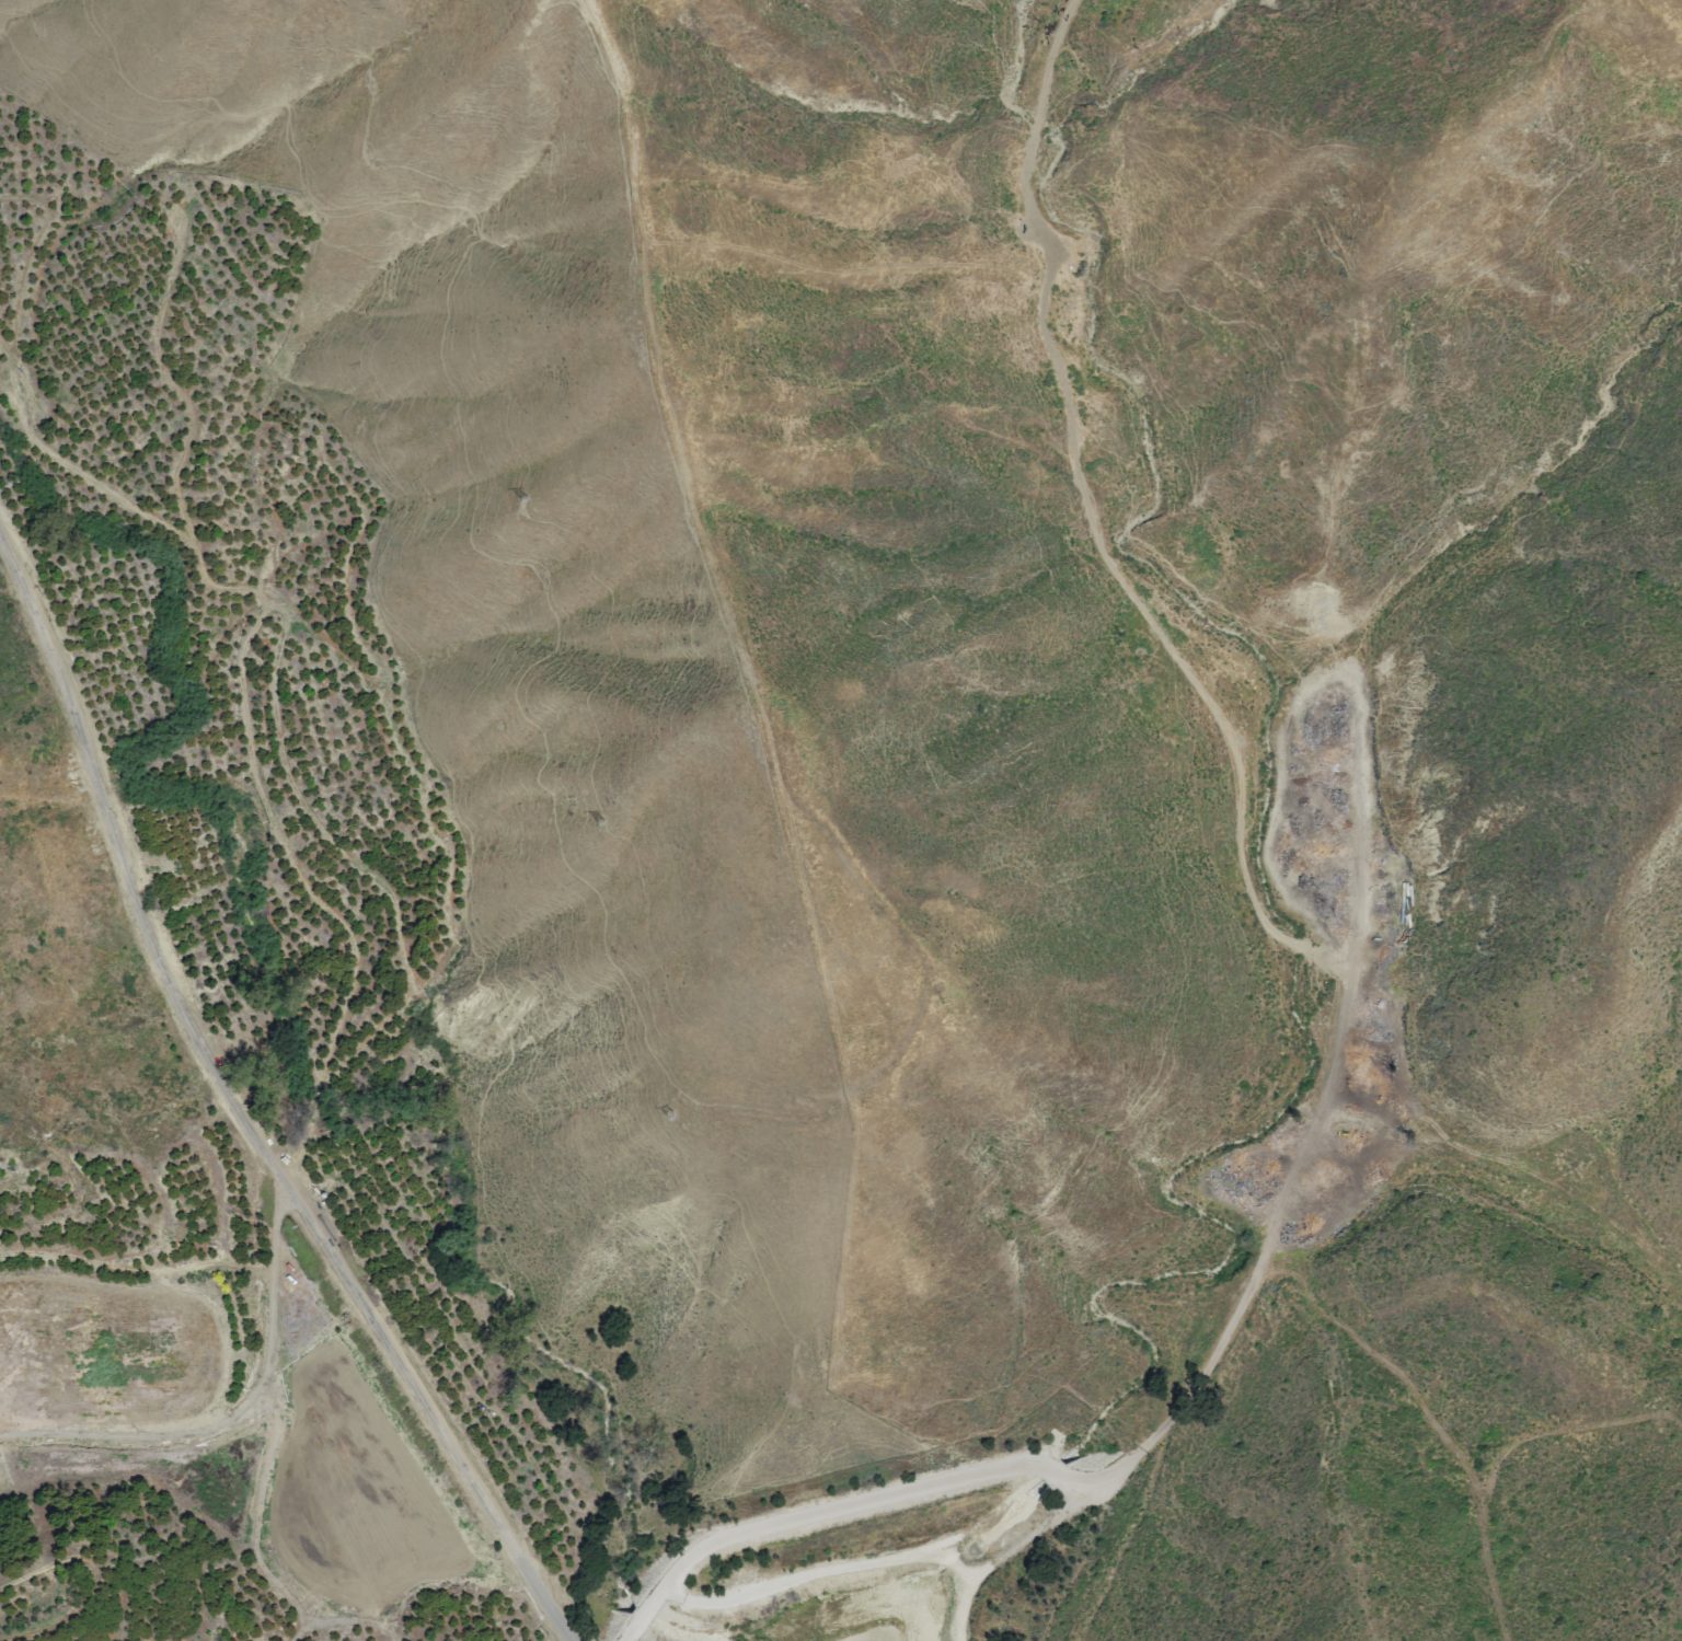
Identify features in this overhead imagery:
road: (130, 868)
road: (1349, 990)
road: (430, 1411)
road: (242, 1414)

